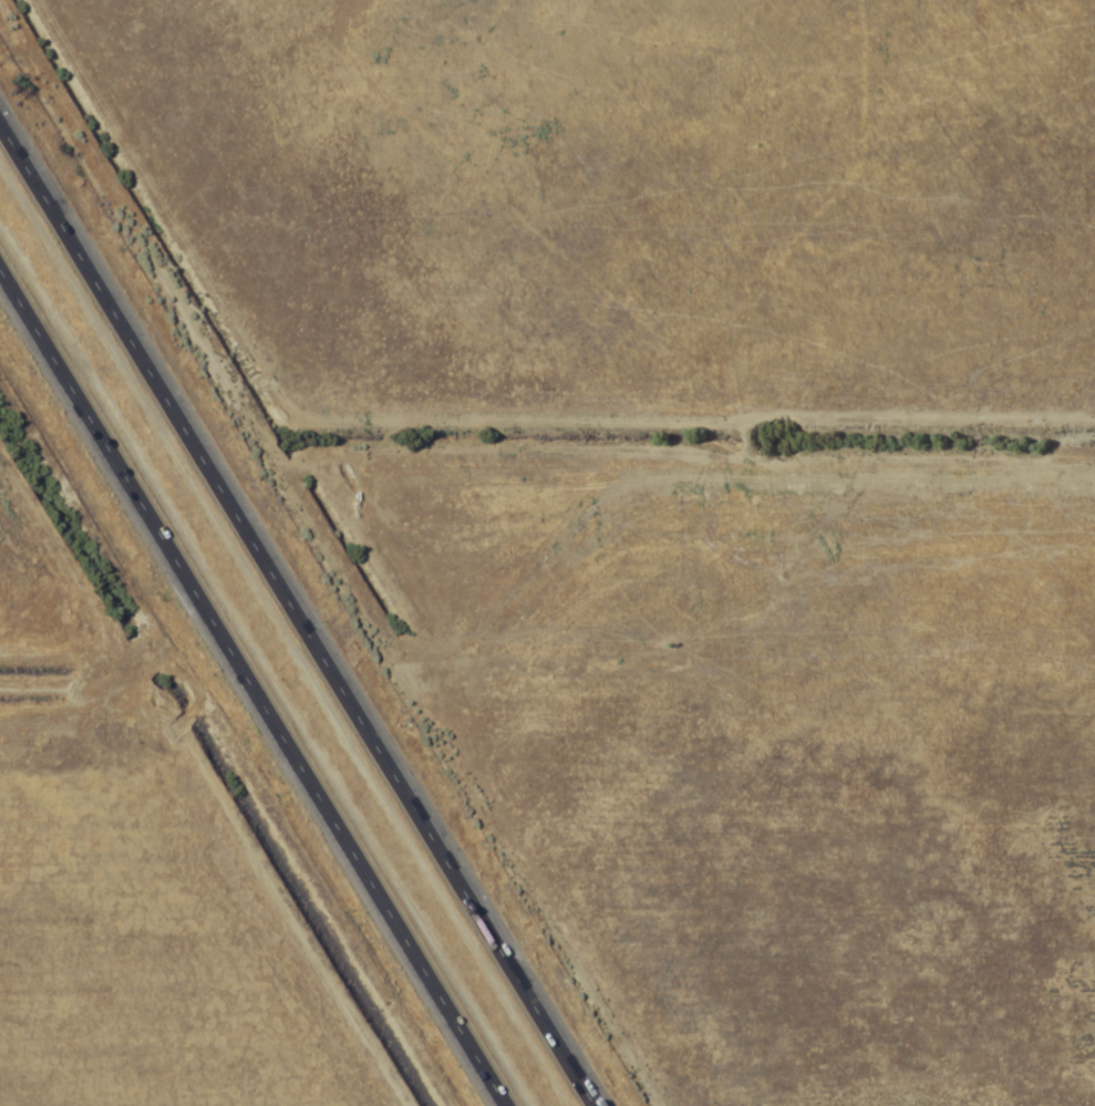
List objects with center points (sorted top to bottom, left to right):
road: (299, 611)
road: (254, 685)

